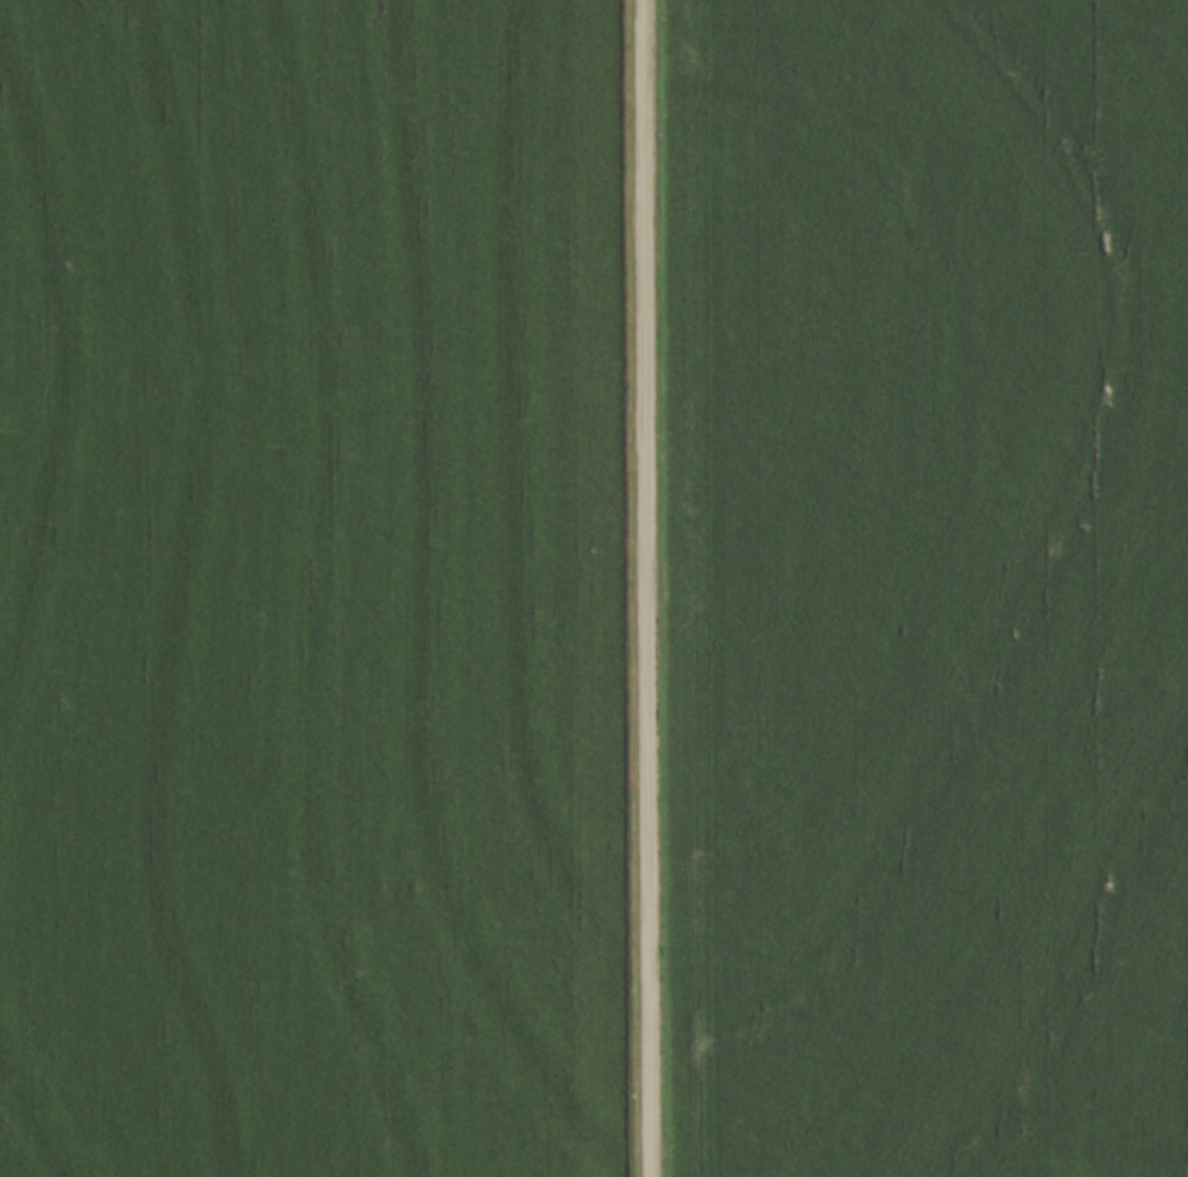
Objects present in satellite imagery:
road: (647, 588)

